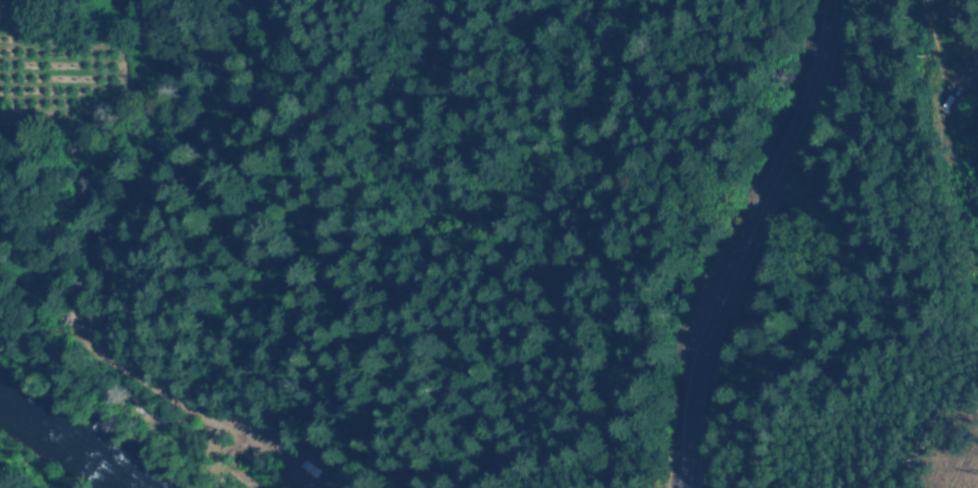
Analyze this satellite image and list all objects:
road: (171, 199)
road: (743, 240)
river: (79, 439)

